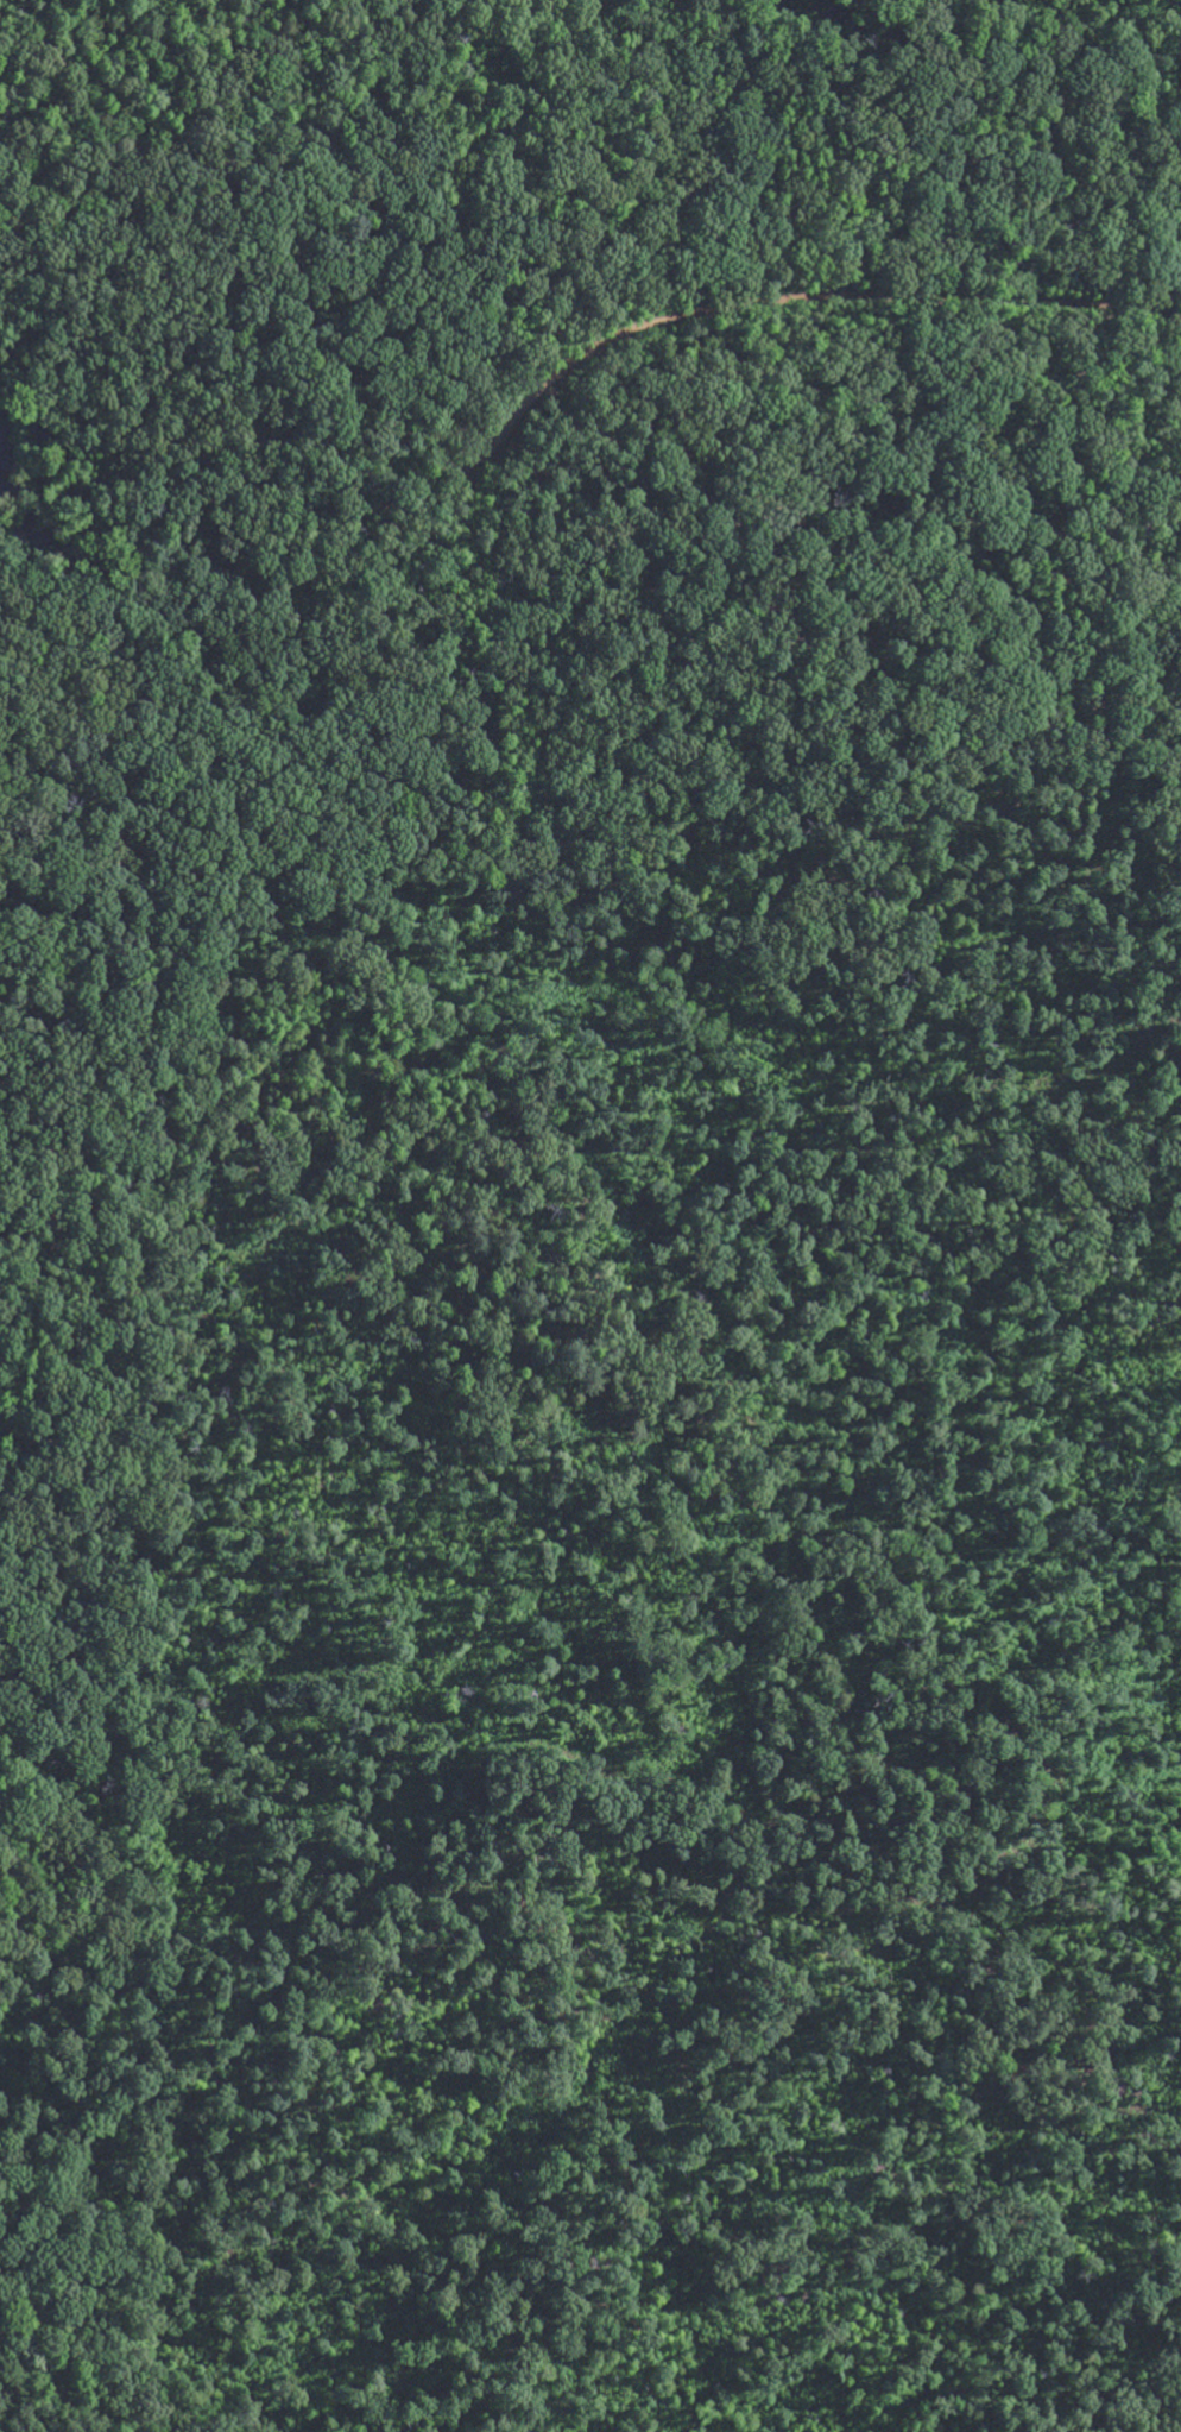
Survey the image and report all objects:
road: (773, 295)

